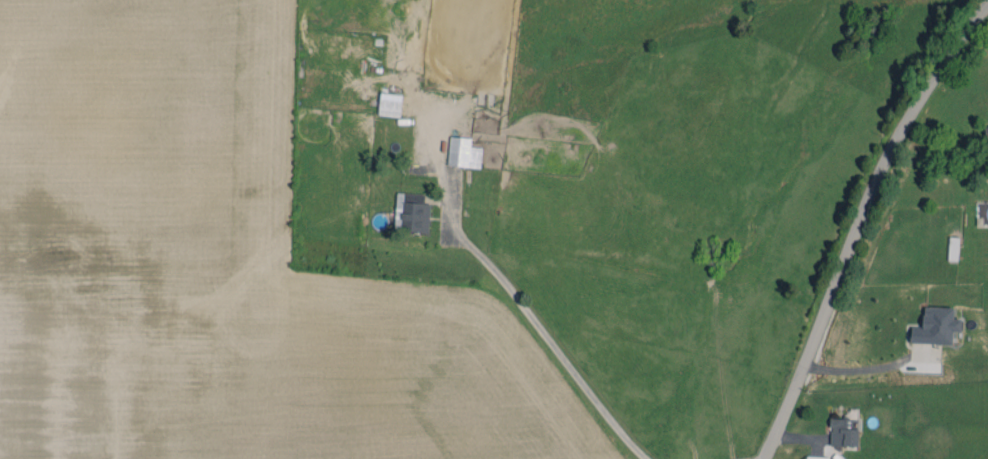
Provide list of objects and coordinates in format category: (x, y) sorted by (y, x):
building: (390, 104)
building: (987, 128)
building: (463, 152)
building: (413, 213)
road: (848, 218)
building: (936, 326)
road: (538, 330)
road: (858, 372)
building: (843, 432)
building: (817, 457)

